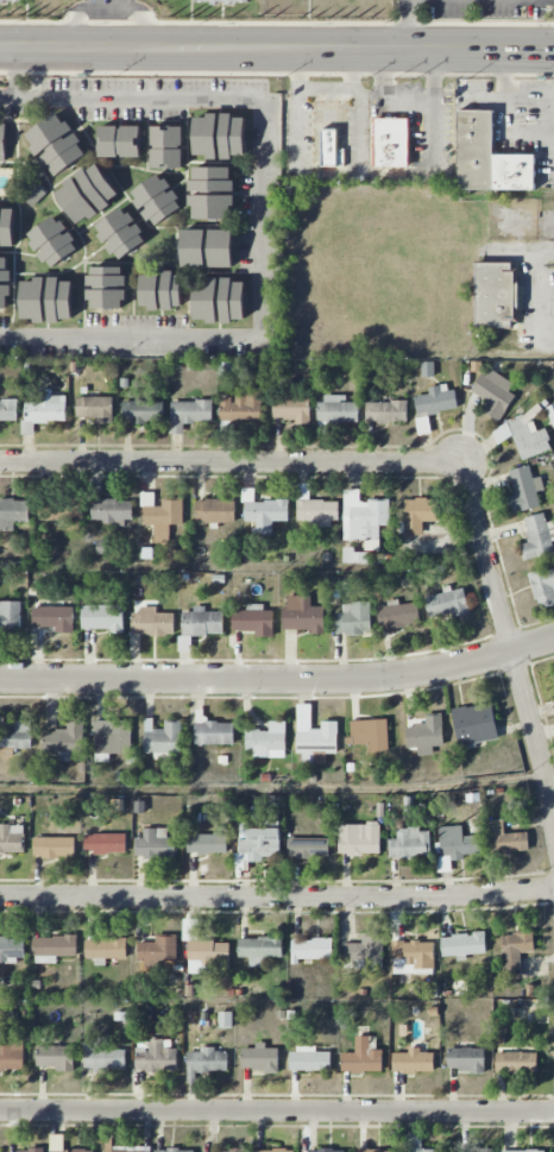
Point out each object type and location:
building: (12, 1)
building: (222, 2)
road: (408, 24)
road: (277, 48)
road: (17, 70)
road: (352, 70)
road: (383, 71)
road: (365, 93)
road: (7, 94)
road: (501, 113)
building: (219, 134)
building: (119, 140)
building: (2, 141)
building: (392, 141)
building: (55, 145)
building: (166, 146)
building: (328, 147)
building: (487, 156)
road: (363, 174)
building: (32, 193)
building: (87, 193)
building: (212, 193)
building: (157, 199)
road: (263, 225)
building: (7, 226)
building: (120, 232)
building: (53, 240)
building: (207, 247)
building: (5, 282)
building: (107, 287)
building: (162, 289)
building: (497, 295)
road: (539, 296)
building: (46, 298)
building: (220, 298)
building: (428, 369)
building: (495, 394)
building: (433, 404)
building: (243, 407)
building: (95, 408)
building: (291, 408)
building: (8, 410)
building: (43, 410)
building: (141, 410)
building: (338, 410)
building: (386, 411)
building: (550, 413)
building: (189, 414)
building: (523, 435)
road: (232, 464)
building: (524, 490)
building: (59, 510)
building: (112, 510)
building: (215, 511)
building: (317, 511)
building: (162, 512)
building: (263, 512)
building: (13, 514)
building: (420, 515)
building: (364, 518)
building: (537, 536)
building: (351, 554)
building: (543, 587)
building: (446, 603)
building: (302, 615)
building: (397, 615)
building: (10, 617)
building: (102, 617)
building: (53, 618)
building: (353, 618)
building: (253, 621)
building: (152, 622)
building: (202, 622)
building: (184, 642)
road: (511, 643)
road: (279, 680)
building: (474, 724)
building: (212, 731)
building: (17, 735)
building: (370, 735)
building: (426, 735)
building: (112, 738)
building: (162, 738)
building: (64, 741)
building: (267, 741)
building: (319, 742)
building: (271, 821)
building: (12, 838)
building: (359, 838)
building: (504, 838)
building: (105, 843)
building: (207, 843)
building: (256, 843)
building: (156, 844)
building: (410, 844)
building: (455, 845)
building: (53, 846)
building: (308, 848)
road: (277, 896)
building: (464, 945)
building: (12, 948)
building: (53, 948)
building: (105, 949)
building: (259, 949)
building: (311, 949)
building: (158, 950)
building: (365, 951)
building: (515, 952)
building: (208, 957)
building: (413, 957)
building: (11, 1055)
building: (56, 1057)
building: (103, 1057)
building: (156, 1058)
building: (259, 1058)
building: (361, 1058)
building: (466, 1059)
building: (309, 1060)
building: (206, 1062)
building: (413, 1062)
building: (516, 1062)
road: (277, 1110)
building: (414, 1144)
building: (126, 1150)
building: (174, 1150)
building: (275, 1150)
building: (486, 1150)
building: (24, 1151)
building: (73, 1151)
building: (226, 1151)
building: (326, 1151)
building: (376, 1151)
building: (522, 1151)

